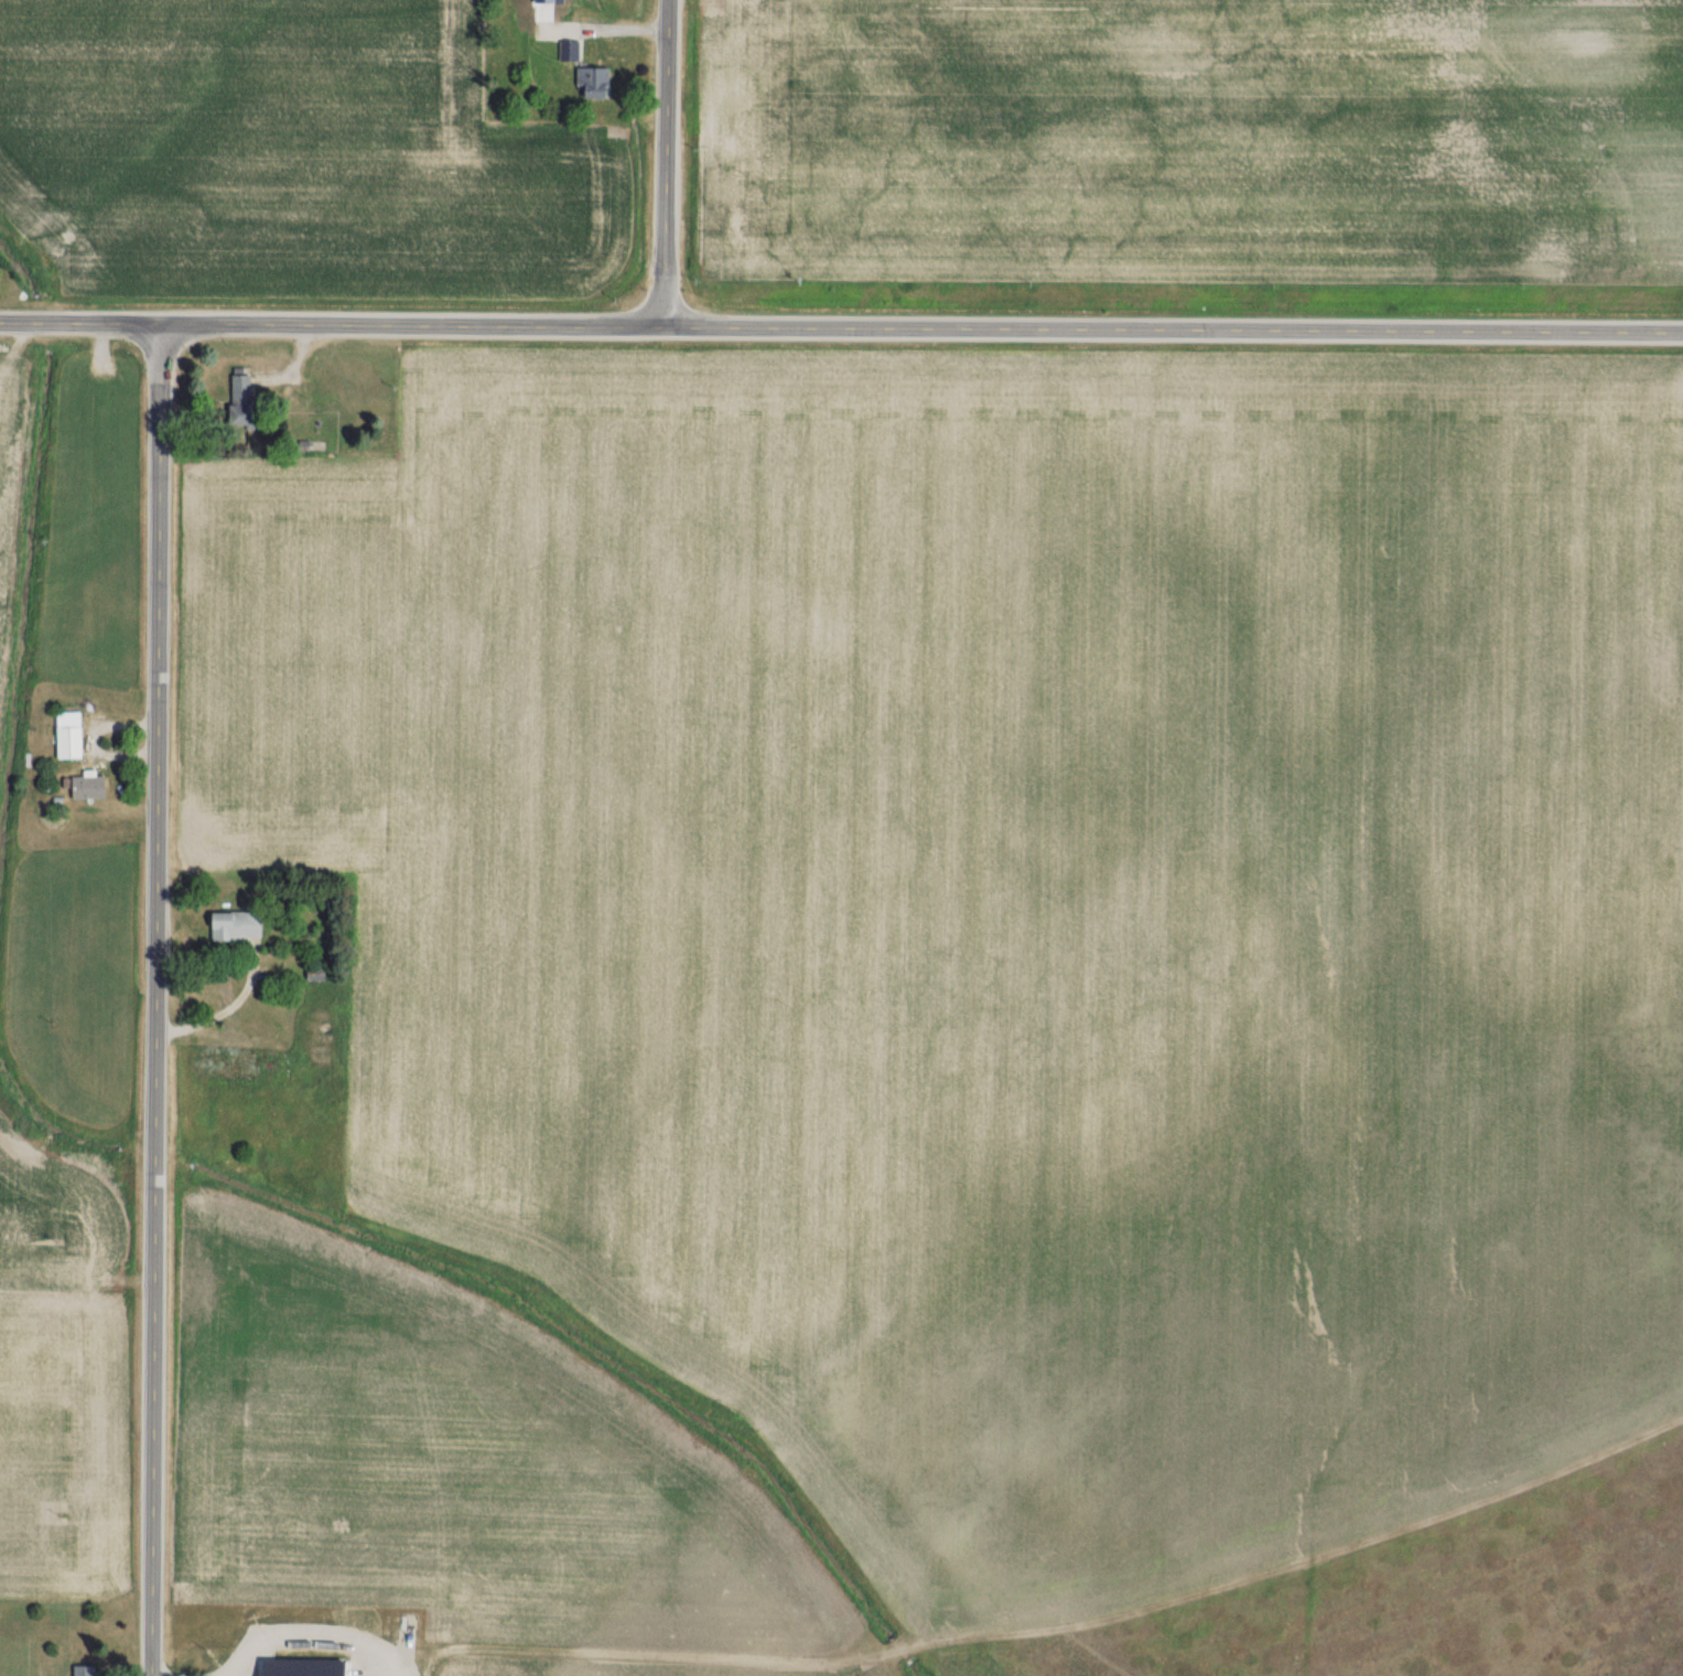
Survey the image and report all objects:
building: (564, 51)
building: (586, 83)
road: (664, 162)
road: (841, 326)
building: (236, 401)
building: (63, 736)
road: (1554, 782)
building: (84, 788)
building: (230, 927)
road: (155, 999)
road: (219, 1013)
building: (312, 1025)
building: (281, 1665)
building: (78, 1670)

